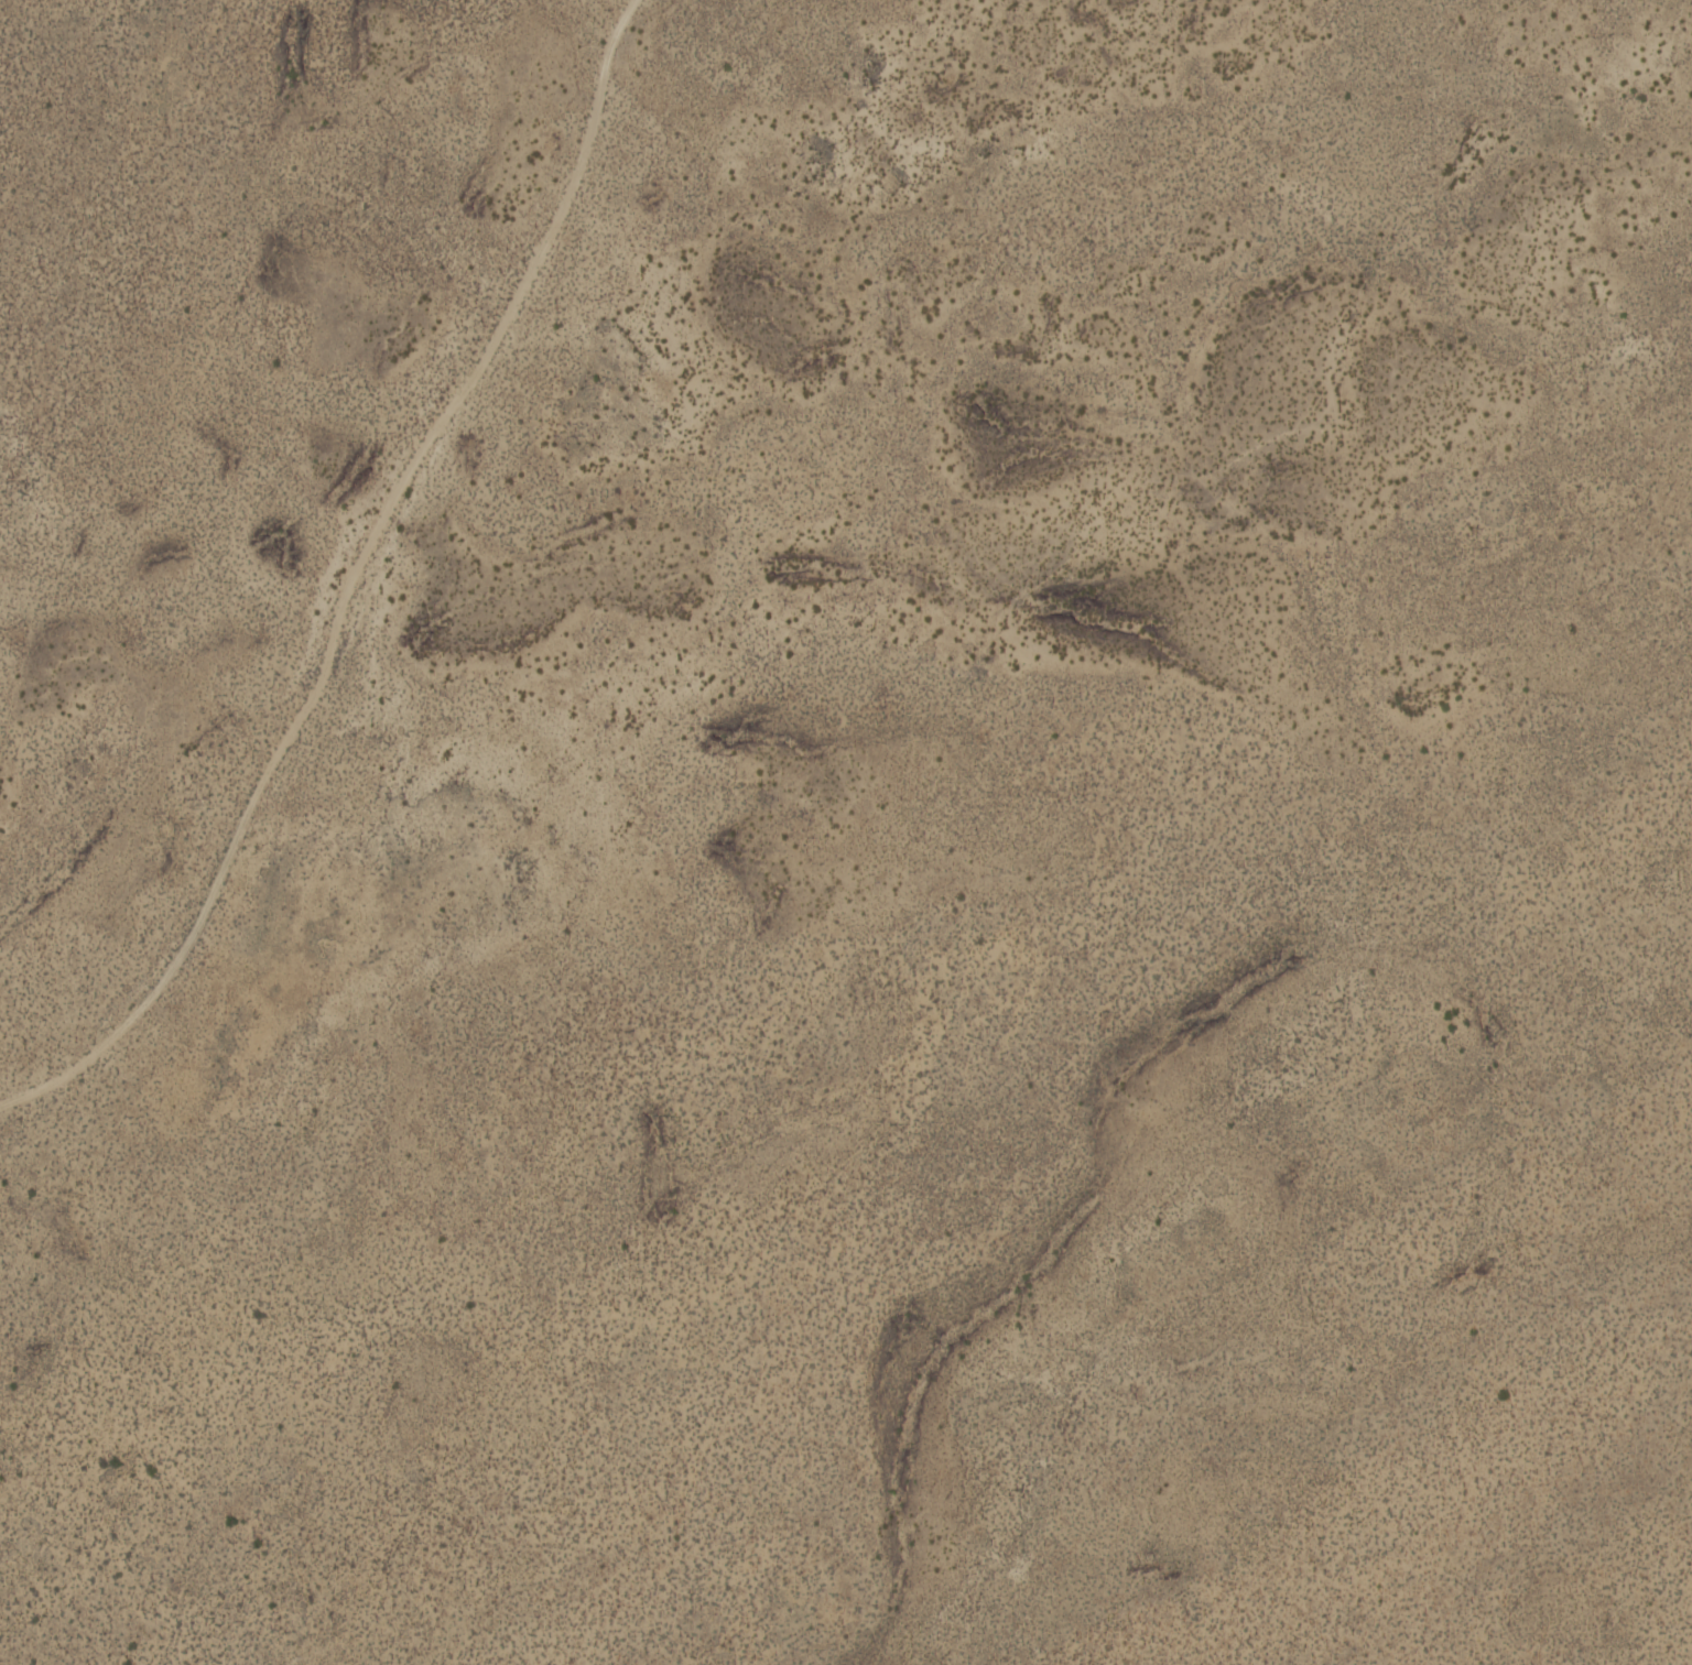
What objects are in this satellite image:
road: (338, 576)

